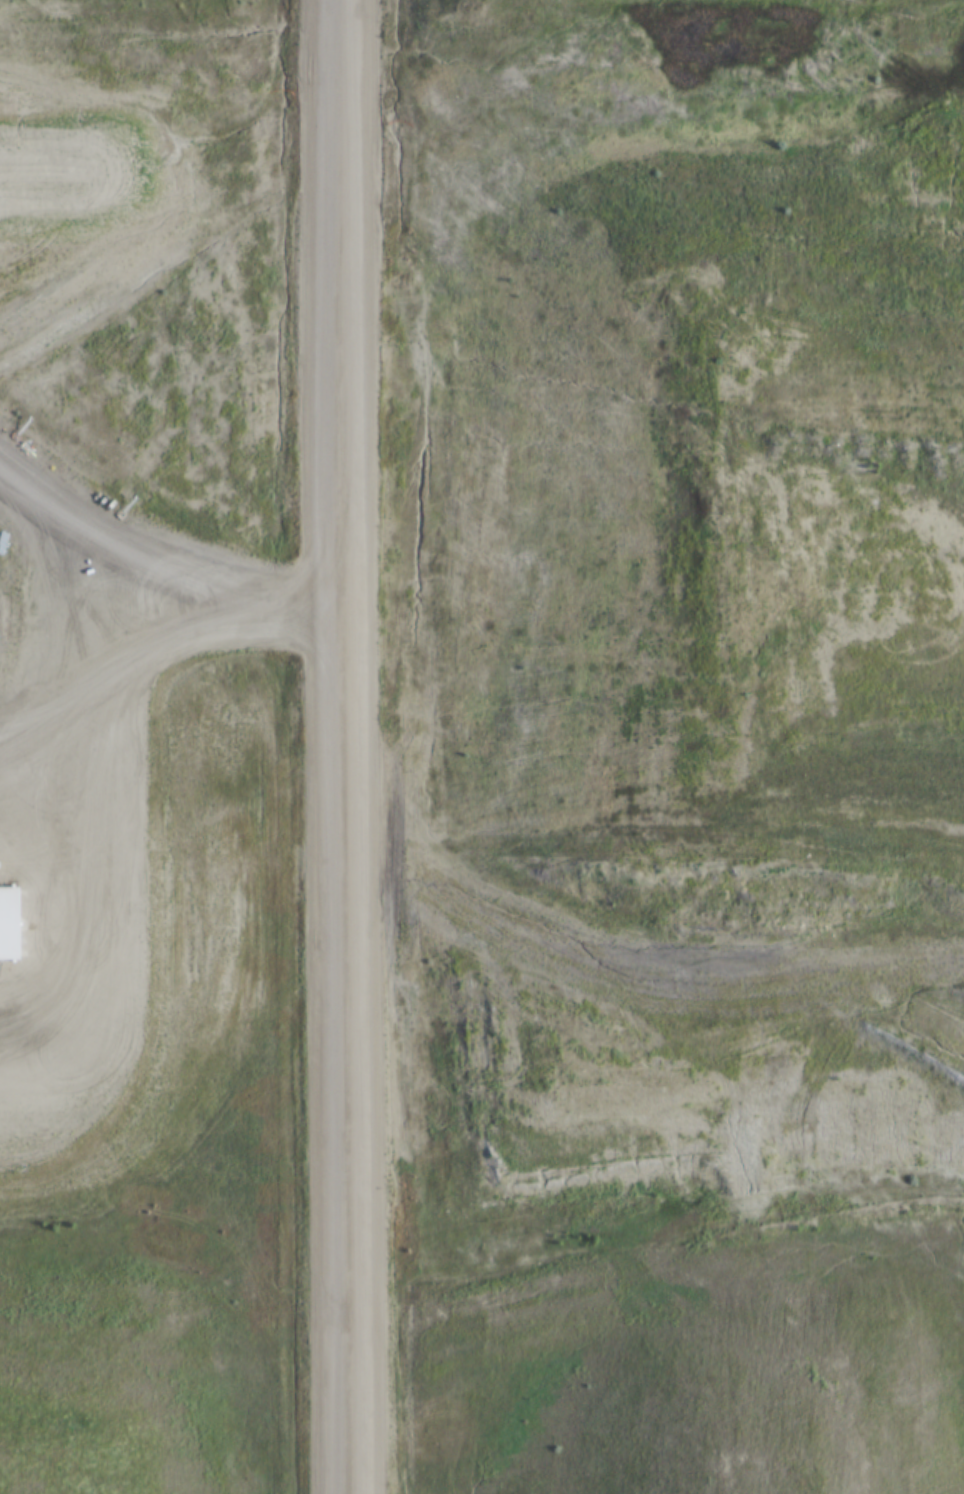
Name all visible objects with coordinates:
quarry: (482, 747)
building: (12, 924)

